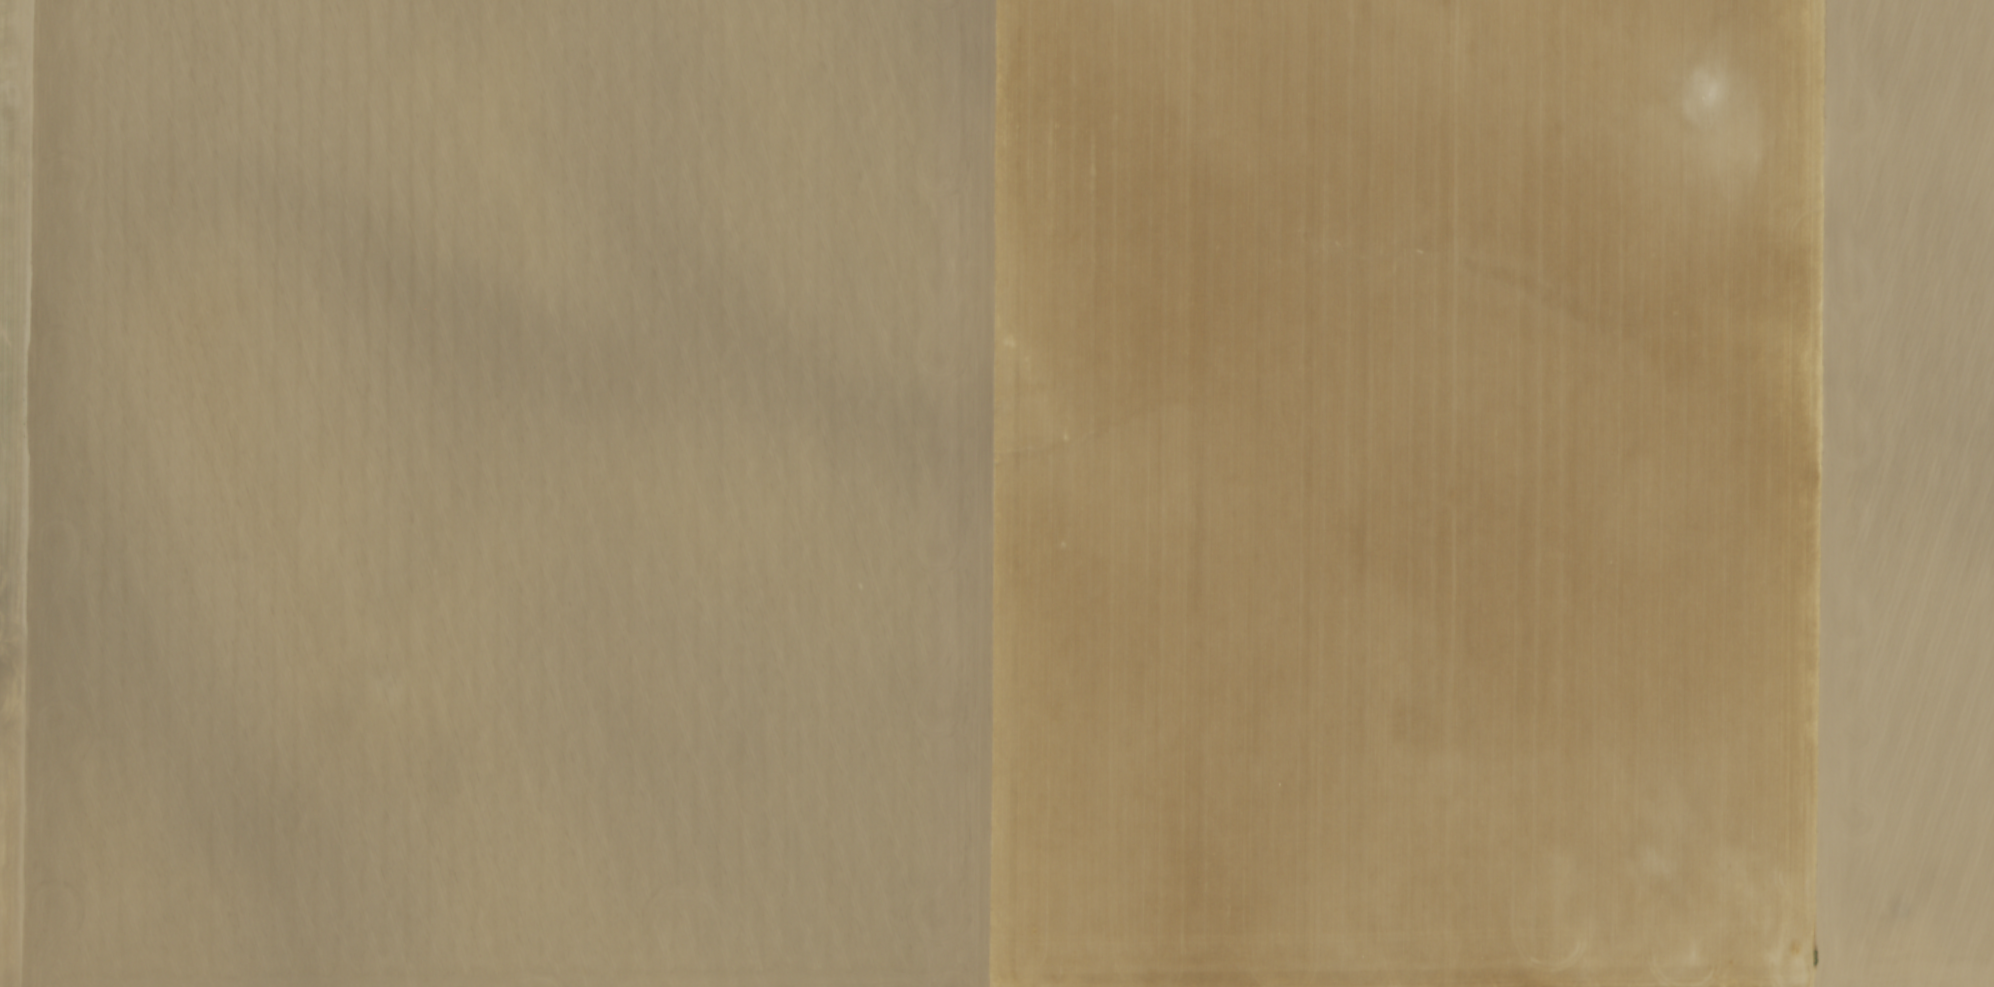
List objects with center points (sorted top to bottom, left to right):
crop: (997, 493)

